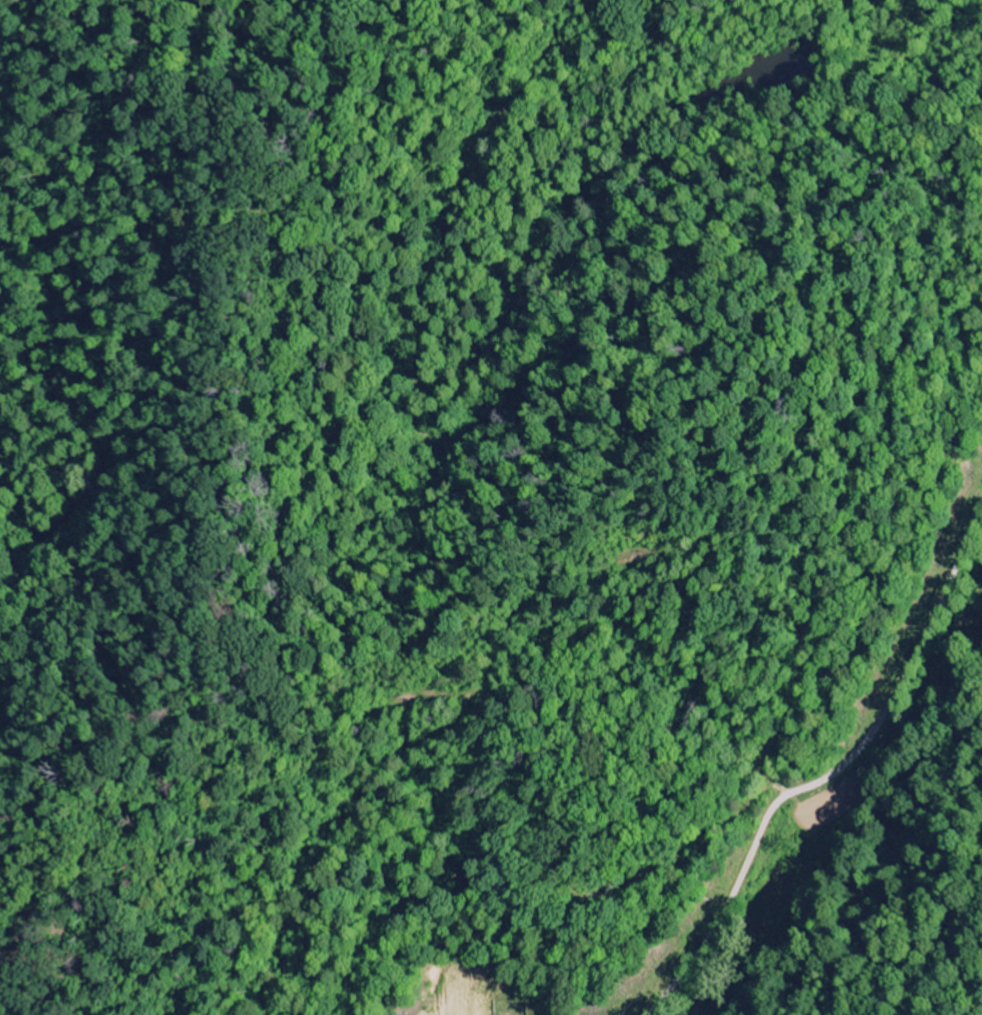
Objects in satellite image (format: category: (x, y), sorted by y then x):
road: (843, 767)

